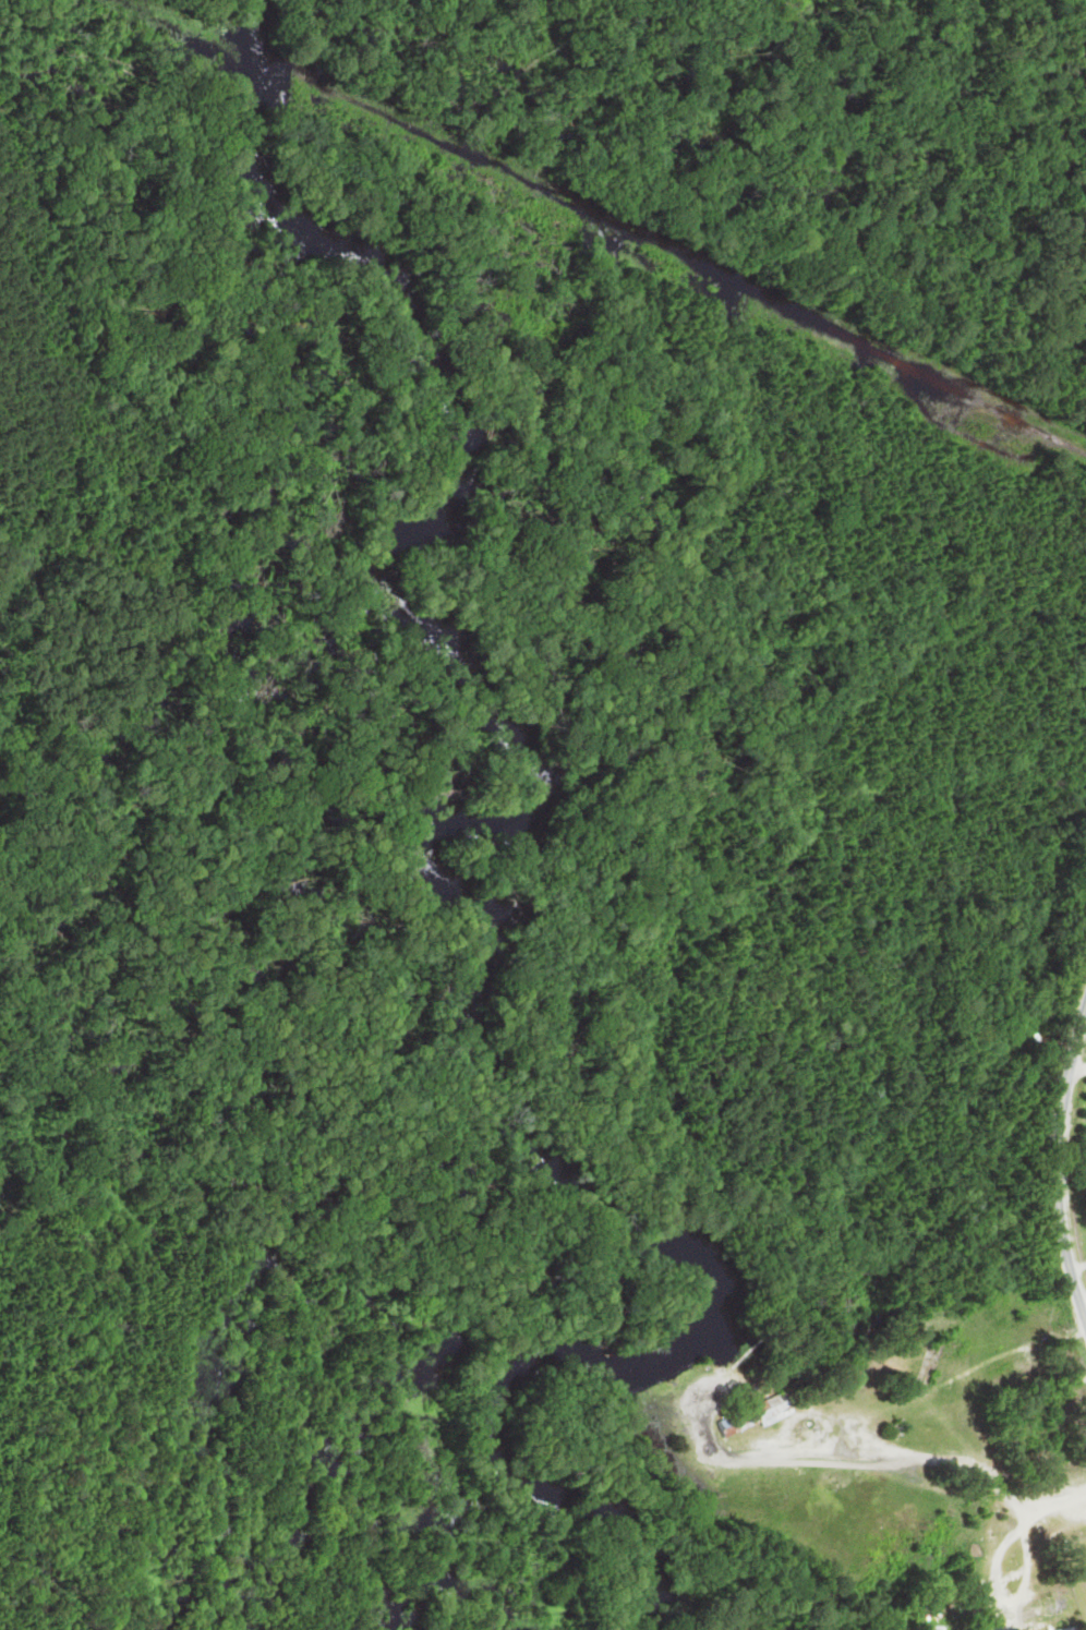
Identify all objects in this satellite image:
river: (458, 894)
road: (1084, 1011)
road: (1076, 1071)
road: (1052, 1164)
road: (1076, 1268)
road: (1081, 1297)
road: (1085, 1323)
building: (747, 1417)
building: (943, 1573)
building: (1038, 1611)

